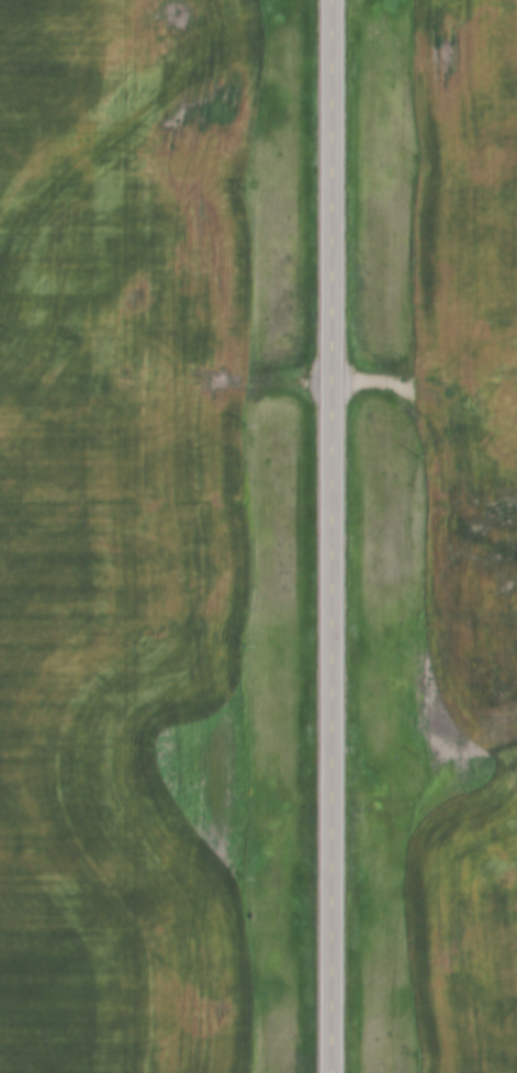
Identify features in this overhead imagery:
road: (326, 536)

